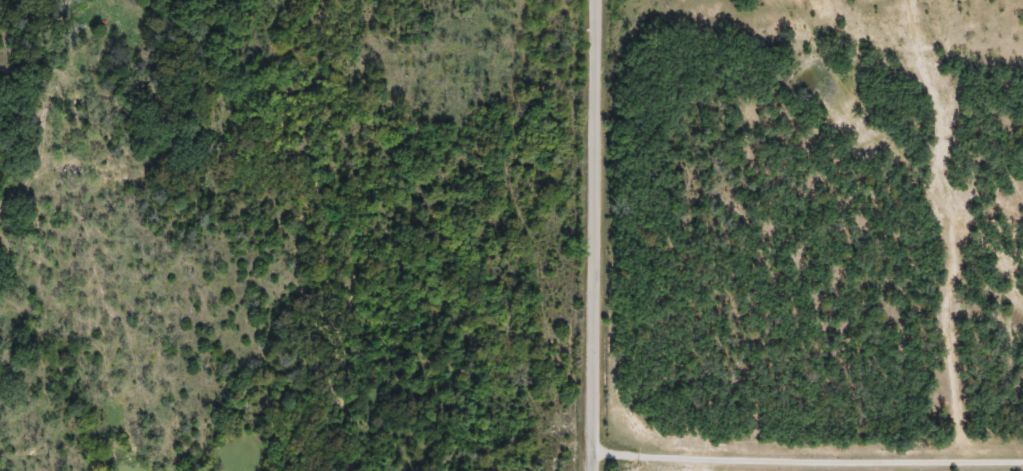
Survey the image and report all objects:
road: (589, 235)
road: (804, 460)

